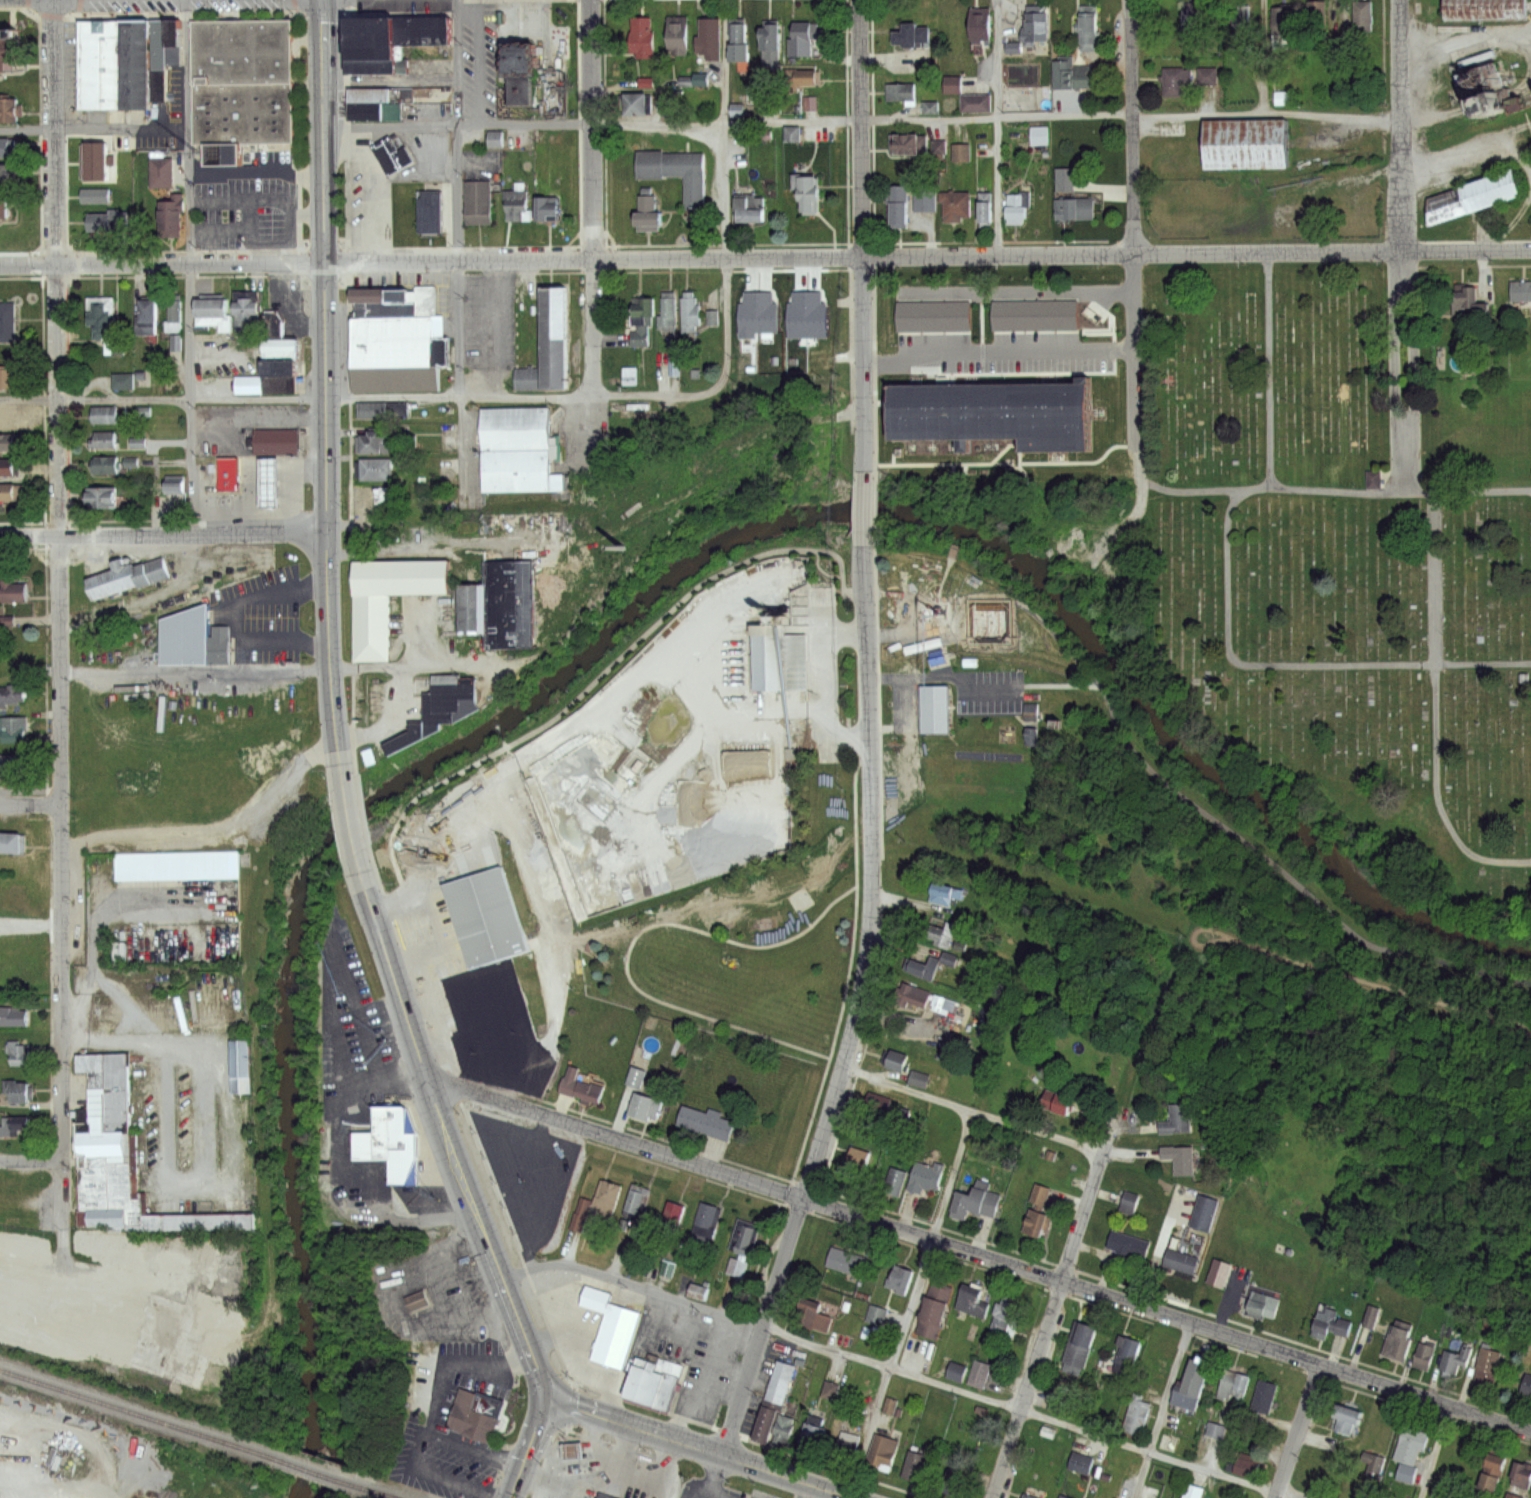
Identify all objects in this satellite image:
building: (1481, 10)
building: (1195, 15)
building: (1364, 18)
building: (1318, 19)
building: (1283, 21)
building: (419, 23)
building: (982, 25)
building: (1037, 26)
building: (1247, 26)
building: (371, 29)
building: (1092, 32)
building: (6, 34)
building: (915, 36)
building: (679, 37)
building: (644, 38)
building: (709, 39)
building: (806, 43)
building: (743, 44)
building: (774, 44)
building: (163, 47)
building: (520, 49)
building: (135, 56)
building: (100, 57)
road: (1264, 58)
building: (371, 61)
building: (1064, 75)
building: (1203, 75)
building: (810, 78)
building: (1084, 78)
building: (519, 80)
building: (240, 82)
building: (368, 83)
building: (1176, 83)
parking lot: (175, 88)
building: (1473, 92)
building: (902, 94)
building: (807, 102)
building: (974, 104)
building: (374, 105)
building: (771, 105)
building: (640, 106)
building: (927, 107)
building: (11, 111)
road: (1265, 117)
road: (726, 123)
road: (1131, 126)
road: (995, 127)
road: (25, 128)
road: (455, 130)
road: (184, 132)
building: (1035, 135)
building: (794, 136)
building: (492, 138)
building: (909, 145)
building: (6, 148)
building: (391, 149)
building: (935, 149)
building: (1244, 149)
building: (957, 152)
building: (96, 164)
building: (676, 165)
building: (163, 175)
building: (5, 176)
road: (368, 193)
building: (810, 195)
building: (97, 197)
building: (1073, 197)
parking lot: (246, 198)
building: (1471, 198)
building: (926, 200)
building: (480, 202)
building: (646, 203)
building: (1019, 206)
building: (430, 207)
building: (901, 207)
building: (958, 208)
building: (6, 209)
building: (519, 209)
building: (548, 209)
building: (750, 209)
building: (981, 209)
road: (592, 212)
building: (168, 220)
building: (398, 221)
building: (109, 223)
road: (860, 244)
road: (1401, 247)
road: (724, 255)
road: (928, 255)
road: (163, 264)
parking lot: (400, 271)
road: (1075, 288)
building: (1519, 290)
building: (1474, 304)
building: (646, 308)
building: (173, 311)
building: (212, 314)
building: (249, 314)
parking lot: (488, 316)
building: (670, 316)
building: (693, 316)
building: (710, 317)
building: (933, 317)
building: (1033, 317)
building: (149, 319)
building: (104, 322)
building: (7, 323)
building: (268, 323)
parking lot: (339, 328)
road: (456, 328)
building: (553, 331)
building: (396, 334)
building: (641, 337)
road: (997, 351)
building: (280, 364)
road: (1269, 371)
building: (529, 372)
building: (8, 379)
building: (125, 381)
road: (1135, 384)
road: (326, 385)
road: (258, 396)
road: (460, 396)
road: (122, 398)
road: (189, 398)
building: (379, 409)
building: (998, 409)
building: (143, 411)
building: (106, 416)
building: (6, 422)
building: (275, 425)
building: (104, 441)
building: (271, 441)
building: (376, 441)
building: (139, 443)
building: (5, 445)
building: (518, 445)
road: (464, 448)
building: (133, 463)
building: (106, 465)
building: (228, 466)
building: (378, 469)
building: (6, 471)
gas station: (268, 475)
building: (176, 478)
building: (1370, 479)
building: (263, 483)
road: (1331, 490)
building: (377, 496)
building: (6, 497)
building: (103, 499)
road: (865, 509)
road: (163, 532)
park: (1340, 558)
building: (127, 569)
building: (798, 572)
building: (15, 588)
building: (508, 595)
building: (471, 600)
river: (643, 600)
parking lot: (267, 617)
building: (370, 619)
road: (237, 621)
road: (59, 630)
building: (186, 630)
building: (222, 644)
road: (239, 648)
building: (934, 652)
building: (773, 660)
road: (1290, 665)
road: (195, 669)
road: (593, 676)
building: (14, 696)
building: (934, 701)
building: (438, 703)
road: (1435, 710)
building: (1027, 712)
building: (12, 725)
building: (1028, 735)
building: (12, 762)
road: (1183, 792)
road: (30, 796)
road: (30, 804)
road: (350, 809)
road: (217, 820)
building: (10, 845)
building: (176, 860)
building: (947, 894)
building: (9, 895)
building: (485, 910)
building: (945, 934)
building: (8, 935)
road: (632, 941)
building: (116, 950)
park: (735, 953)
building: (925, 966)
building: (915, 995)
road: (860, 1001)
building: (12, 1017)
building: (16, 1054)
building: (239, 1059)
building: (898, 1060)
building: (632, 1077)
building: (921, 1078)
building: (581, 1087)
building: (14, 1094)
building: (1061, 1100)
building: (879, 1105)
building: (645, 1107)
road: (973, 1111)
building: (1181, 1119)
building: (708, 1121)
road: (449, 1126)
building: (14, 1127)
road: (198, 1130)
building: (391, 1136)
building: (103, 1153)
road: (32, 1156)
building: (861, 1157)
building: (1182, 1158)
building: (928, 1175)
building: (895, 1181)
building: (610, 1194)
building: (639, 1202)
building: (1127, 1202)
building: (978, 1203)
building: (1039, 1210)
building: (677, 1212)
building: (1206, 1212)
building: (582, 1214)
building: (708, 1223)
building: (748, 1238)
building: (1130, 1245)
road: (980, 1256)
building: (849, 1261)
building: (1183, 1261)
building: (1220, 1273)
building: (901, 1281)
building: (696, 1291)
building: (418, 1299)
building: (972, 1302)
road: (912, 1304)
building: (1265, 1305)
building: (936, 1311)
building: (815, 1315)
building: (879, 1315)
building: (1007, 1316)
building: (1369, 1316)
building: (117, 1321)
building: (1329, 1321)
road: (1047, 1328)
building: (613, 1329)
building: (1396, 1342)
building: (1080, 1347)
building: (1132, 1347)
building: (1422, 1355)
road: (453, 1359)
building: (1453, 1359)
building: (1486, 1366)
road: (897, 1369)
building: (953, 1371)
building: (989, 1376)
building: (782, 1381)
building: (1237, 1384)
building: (656, 1385)
building: (1194, 1385)
building: (1525, 1385)
building: (834, 1391)
building: (1267, 1396)
traffic signals: (549, 1402)
building: (469, 1411)
road: (1163, 1411)
railway: (136, 1412)
building: (1138, 1415)
building: (1343, 1418)
building: (768, 1425)
building: (1218, 1429)
building: (784, 1431)
road: (1297, 1432)
building: (814, 1435)
road: (414, 1438)
building: (850, 1443)
building: (1409, 1444)
road: (703, 1447)
building: (568, 1449)
road: (530, 1450)
building: (884, 1450)
road: (1436, 1452)
building: (1372, 1462)
building: (1083, 1463)
building: (915, 1466)
building: (1251, 1469)
railway: (318, 1470)
building: (1405, 1472)
building: (1490, 1473)
building: (1520, 1475)
building: (952, 1482)
road: (2, 1485)
road: (802, 1490)
building: (1196, 1491)
railway: (383, 1492)
building: (604, 1495)
building: (1511, 1495)
building: (1064, 1496)
building: (1030, 1497)

